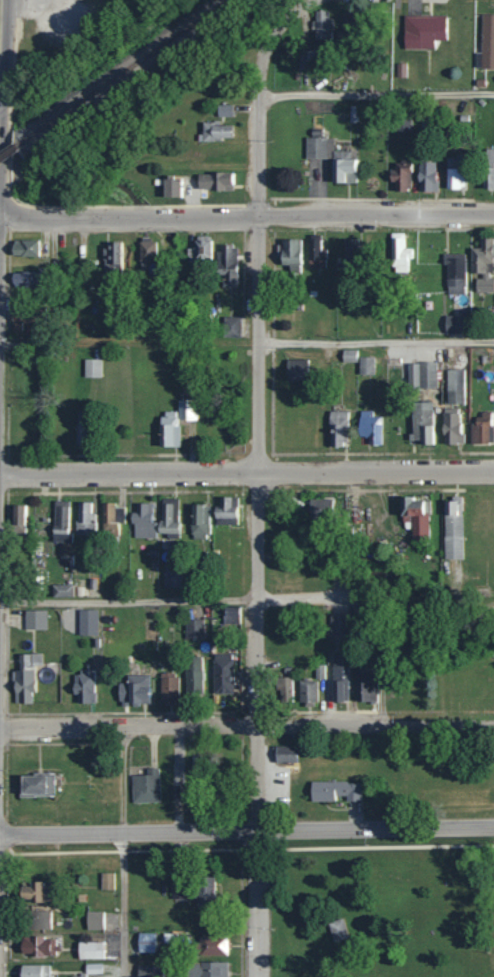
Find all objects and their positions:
road: (1, 5)
road: (0, 12)
building: (322, 25)
building: (422, 30)
road: (0, 33)
building: (487, 41)
building: (305, 58)
building: (401, 69)
railway: (119, 73)
road: (375, 91)
building: (224, 110)
building: (352, 113)
building: (403, 124)
building: (214, 130)
railway: (9, 153)
building: (332, 158)
building: (488, 169)
building: (453, 171)
building: (400, 176)
building: (426, 176)
building: (214, 180)
building: (169, 186)
road: (246, 214)
building: (201, 247)
building: (23, 248)
building: (348, 249)
building: (146, 250)
building: (398, 252)
building: (289, 253)
building: (315, 254)
building: (110, 257)
building: (226, 260)
building: (483, 265)
building: (455, 273)
building: (22, 279)
building: (21, 322)
building: (455, 323)
building: (231, 326)
road: (374, 340)
building: (348, 355)
building: (365, 365)
building: (92, 368)
building: (295, 370)
building: (426, 374)
building: (454, 386)
building: (174, 422)
building: (421, 422)
building: (451, 426)
building: (368, 427)
building: (336, 428)
building: (481, 429)
building: (79, 434)
road: (246, 470)
road: (254, 483)
building: (322, 507)
building: (225, 511)
building: (112, 514)
building: (17, 515)
building: (414, 516)
building: (168, 517)
building: (84, 518)
building: (60, 521)
building: (143, 521)
building: (199, 521)
building: (452, 528)
building: (60, 590)
road: (247, 601)
building: (230, 615)
building: (34, 619)
building: (337, 623)
building: (193, 628)
building: (28, 660)
building: (222, 673)
building: (193, 676)
building: (339, 678)
building: (365, 684)
building: (22, 685)
building: (83, 686)
building: (167, 688)
building: (282, 689)
building: (135, 693)
building: (306, 693)
road: (246, 720)
building: (284, 754)
building: (212, 760)
building: (35, 785)
building: (145, 787)
building: (333, 791)
building: (177, 792)
road: (246, 831)
road: (117, 849)
building: (107, 881)
building: (205, 891)
building: (34, 892)
park: (376, 903)
building: (37, 920)
building: (94, 921)
building: (336, 930)
building: (145, 943)
building: (37, 946)
building: (211, 946)
building: (89, 951)
building: (92, 969)
building: (206, 969)
building: (33, 970)
building: (146, 971)
building: (77, 976)

